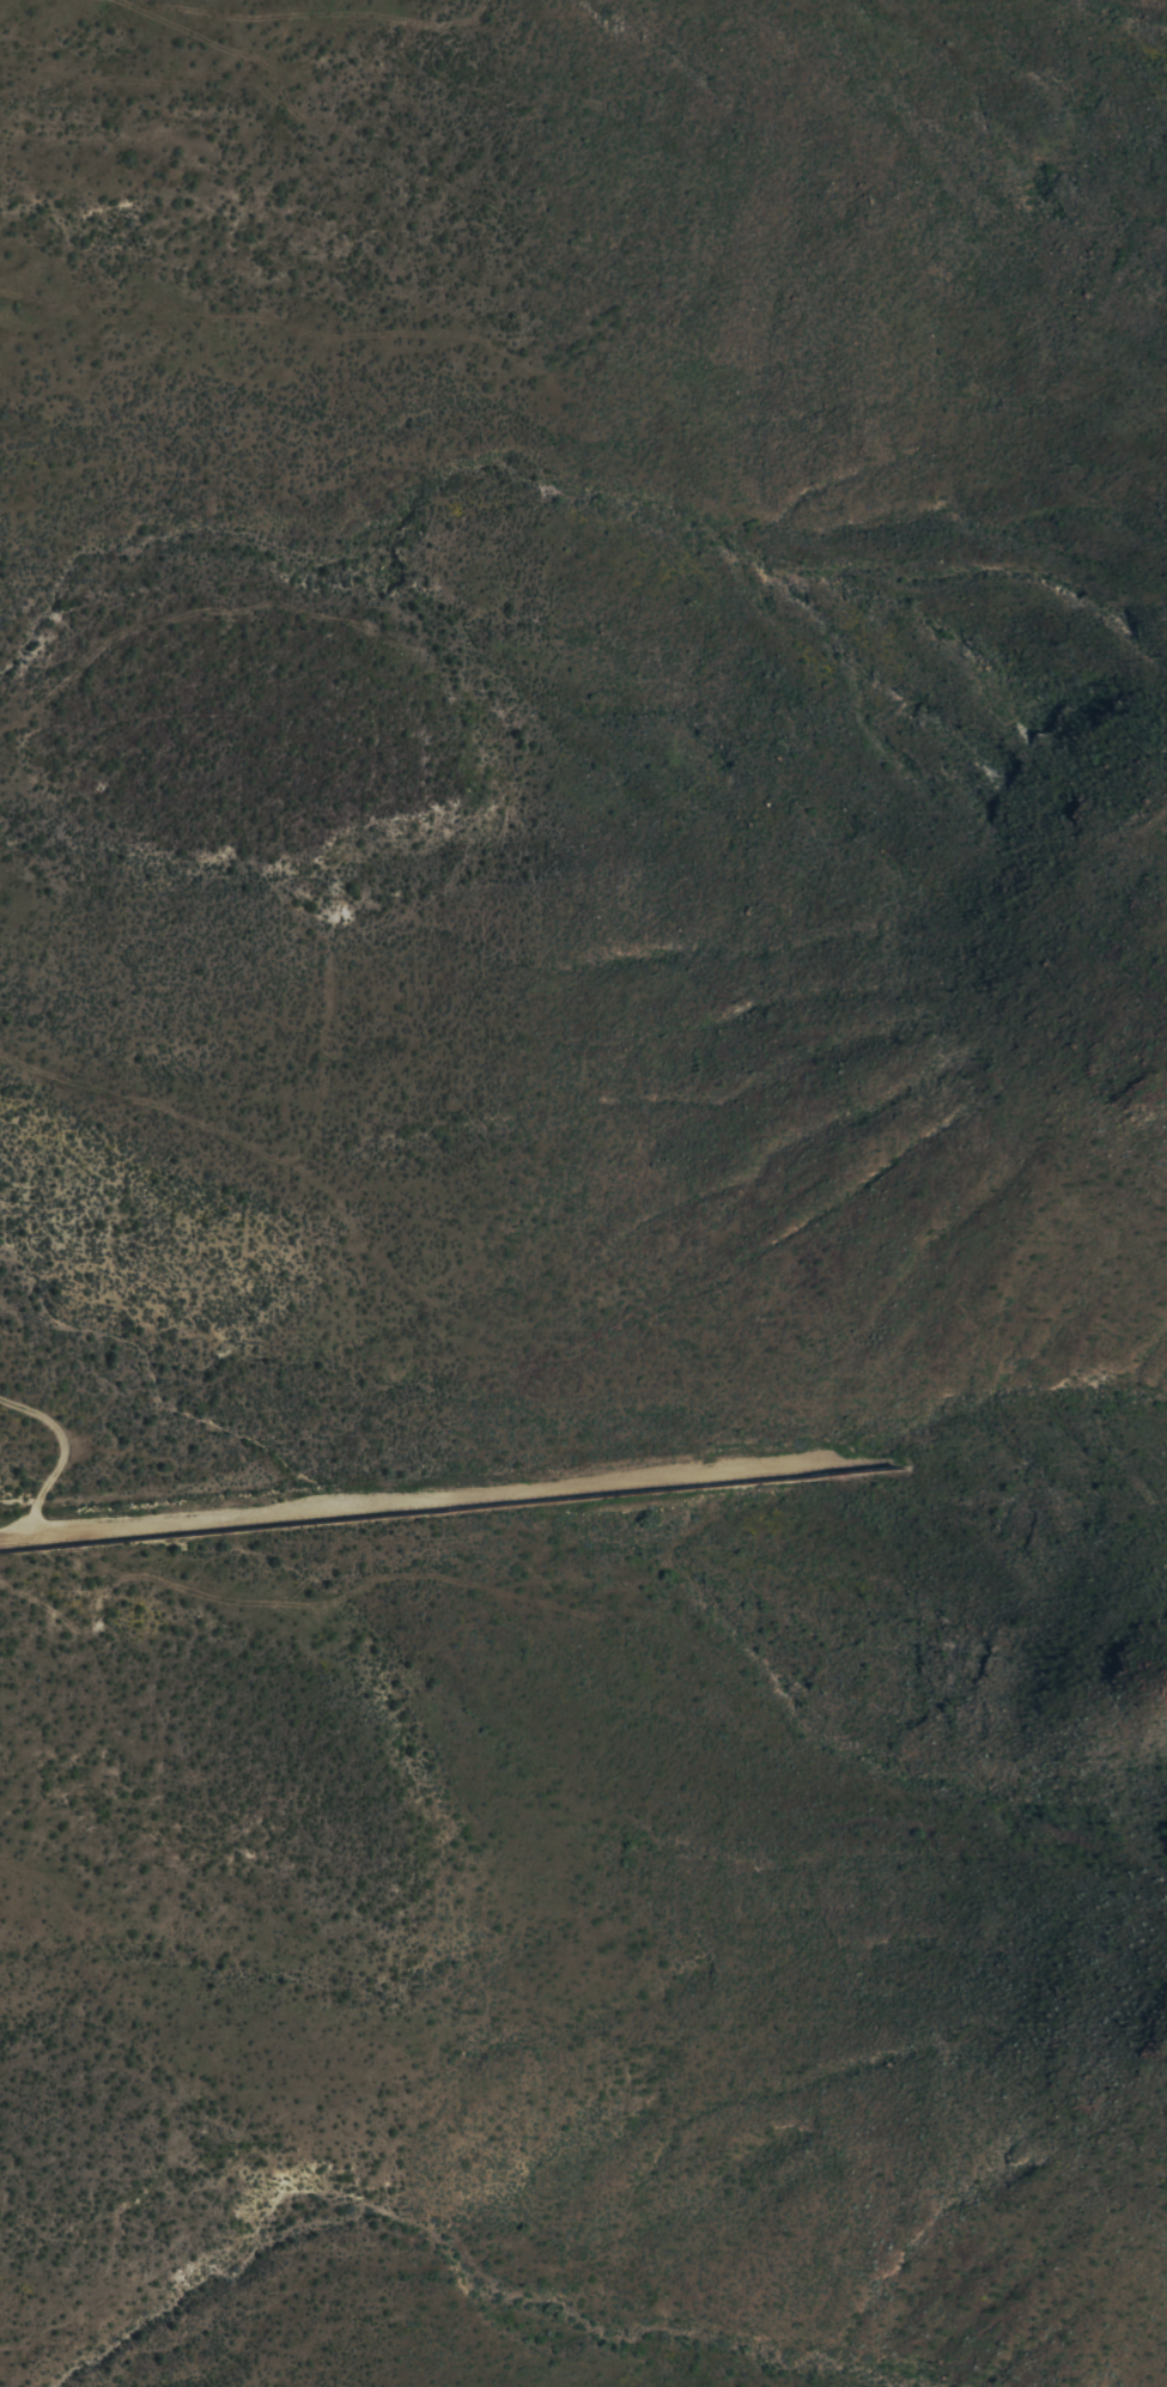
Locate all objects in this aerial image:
road: (452, 1498)

